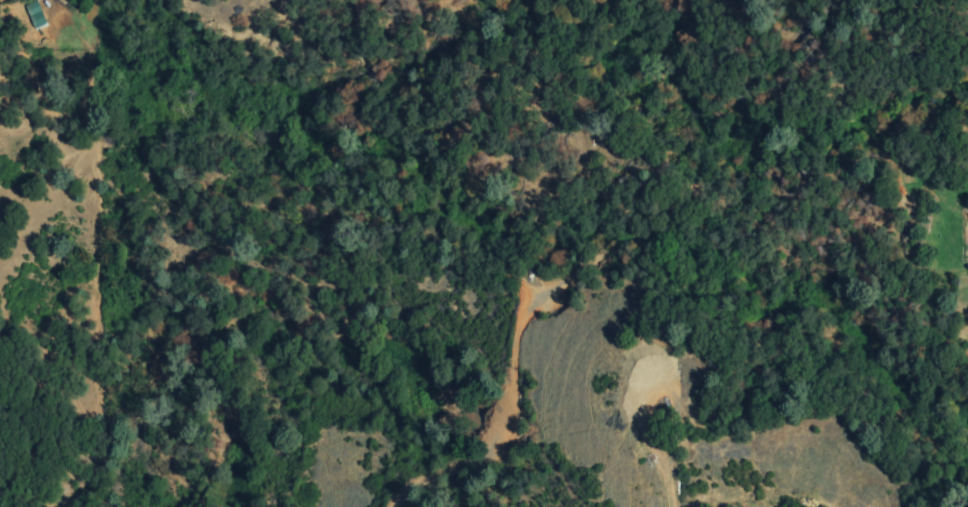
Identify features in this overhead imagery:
building: (34, 14)

